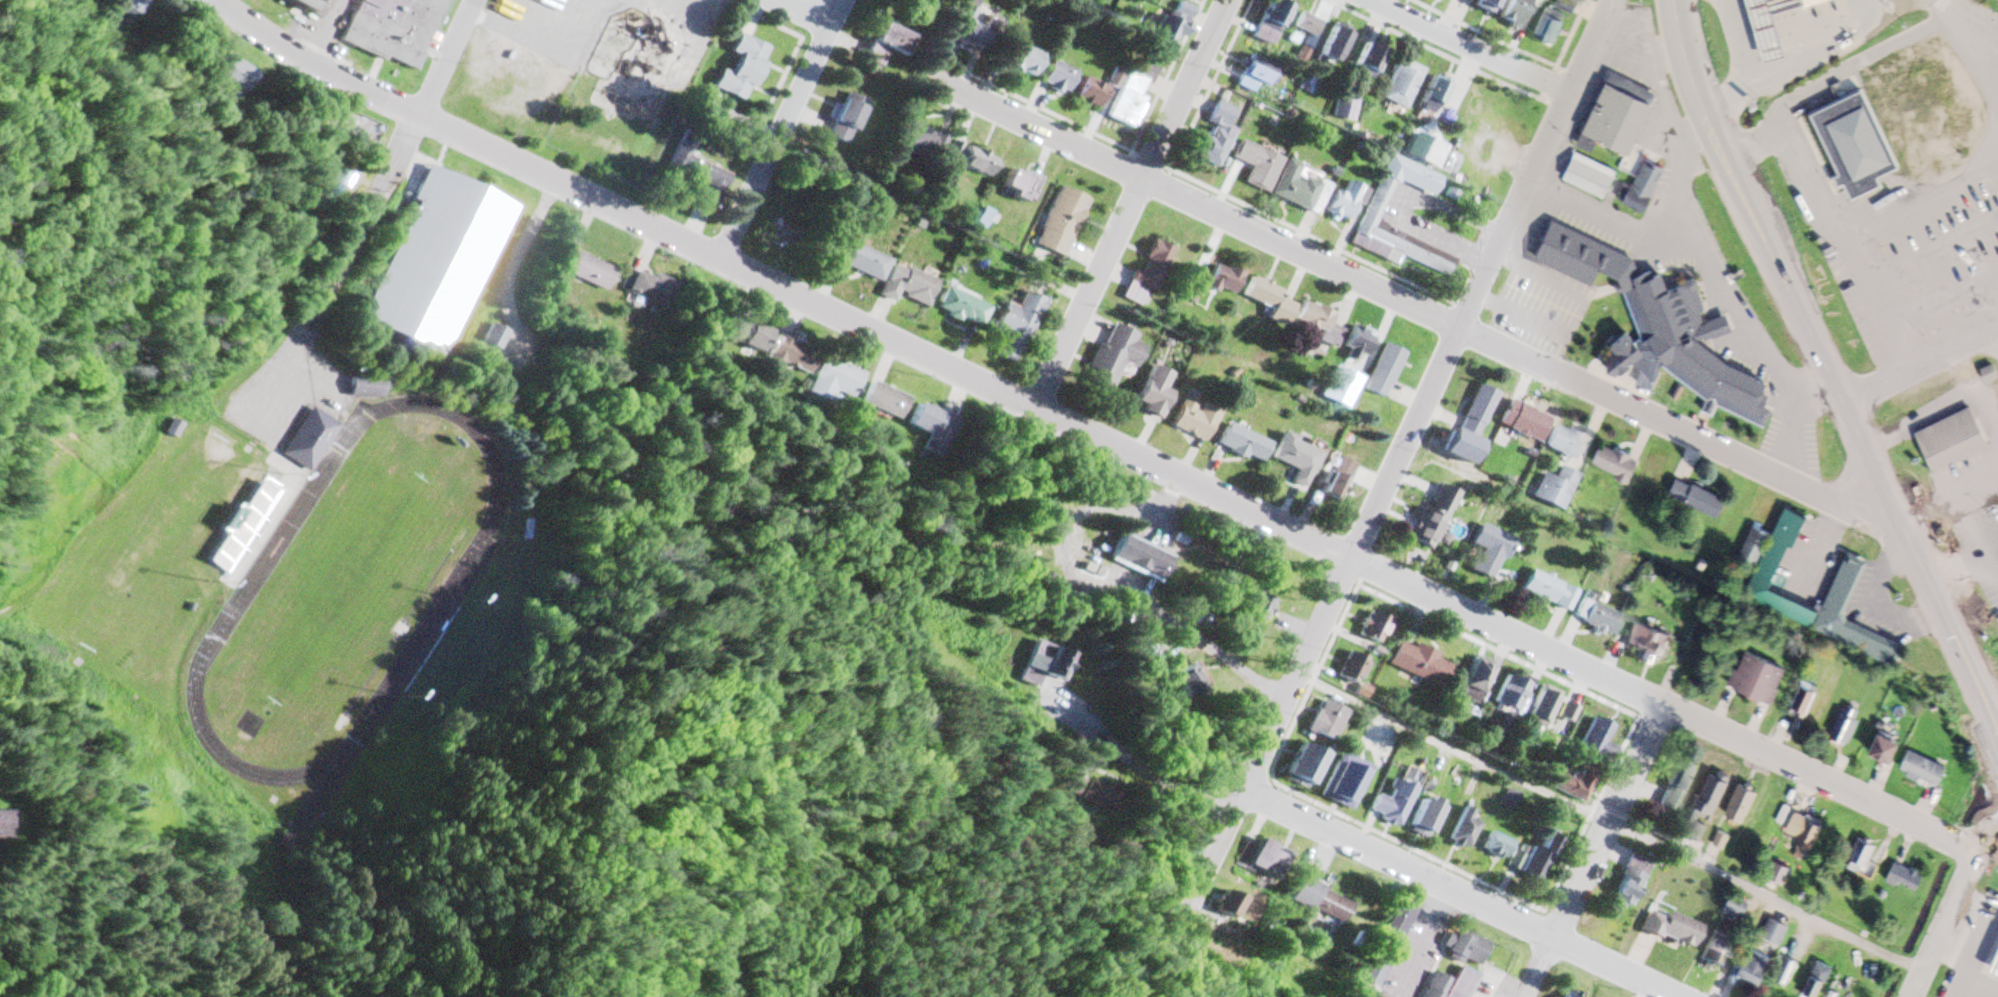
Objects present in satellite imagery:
building: (1542, 0)
building: (1813, 2)
building: (317, 5)
building: (1488, 6)
building: (128, 8)
road: (808, 10)
building: (1516, 12)
building: (1273, 23)
building: (1174, 25)
building: (1308, 25)
building: (1771, 25)
gas station: (1771, 25)
building: (976, 28)
building: (1551, 29)
building: (398, 30)
road: (1484, 34)
building: (894, 40)
building: (1337, 45)
road: (1474, 47)
road: (1564, 49)
road: (1435, 50)
road: (444, 58)
building: (1025, 59)
road: (1870, 59)
building: (1370, 63)
building: (745, 72)
building: (1258, 73)
building: (231, 76)
road: (1168, 76)
building: (1062, 77)
building: (1403, 84)
road: (1211, 85)
building: (1093, 93)
building: (1434, 97)
building: (1129, 98)
building: (1619, 118)
building: (849, 119)
road: (779, 127)
building: (918, 144)
building: (1215, 144)
building: (1859, 144)
building: (1420, 148)
building: (974, 160)
building: (1259, 166)
building: (1590, 178)
building: (706, 182)
building: (1647, 183)
building: (1023, 186)
road: (1206, 186)
building: (1300, 190)
road: (1130, 203)
building: (1346, 203)
road: (1920, 204)
building: (1378, 206)
road: (1746, 207)
building: (1063, 223)
building: (786, 234)
road: (1844, 244)
road: (1931, 256)
building: (439, 260)
building: (864, 261)
road: (337, 268)
building: (589, 271)
building: (1150, 273)
building: (1226, 281)
building: (910, 286)
building: (649, 288)
building: (1272, 302)
road: (1410, 304)
road: (1941, 304)
building: (965, 309)
building: (1320, 325)
building: (1020, 327)
building: (1663, 328)
building: (752, 338)
building: (1359, 344)
building: (796, 356)
building: (1117, 359)
road: (1921, 370)
building: (1385, 371)
building: (839, 381)
building: (365, 388)
building: (1156, 394)
building: (885, 401)
building: (1478, 414)
building: (1195, 421)
building: (1526, 423)
building: (934, 428)
road: (1089, 433)
building: (307, 436)
building: (1954, 438)
building: (1567, 443)
building: (1245, 445)
road: (1402, 448)
building: (1298, 460)
building: (1617, 466)
building: (1337, 479)
building: (1557, 489)
building: (1698, 501)
building: (1435, 518)
building: (257, 521)
building: (1492, 552)
building: (1753, 552)
building: (1779, 553)
building: (1141, 558)
road: (1919, 568)
track: (456, 584)
park: (342, 589)
building: (1550, 593)
building: (1260, 604)
building: (1598, 619)
building: (1379, 627)
building: (1643, 644)
building: (1043, 662)
building: (1422, 664)
building: (1354, 667)
building: (1479, 677)
building: (1195, 681)
building: (1759, 681)
building: (1513, 692)
building: (1803, 702)
building: (1543, 708)
building: (1570, 713)
building: (1329, 720)
building: (1846, 731)
building: (1597, 736)
building: (1886, 751)
road: (1138, 756)
building: (1308, 764)
building: (1923, 771)
building: (1683, 777)
building: (1346, 784)
building: (1577, 785)
building: (1714, 794)
building: (1101, 797)
building: (1395, 804)
building: (1743, 805)
building: (1428, 818)
road: (1610, 821)
building: (4, 825)
building: (1467, 828)
building: (1697, 832)
building: (1805, 838)
building: (1722, 841)
building: (287, 843)
building: (1498, 846)
road: (1586, 851)
building: (1861, 857)
building: (1537, 860)
building: (1264, 861)
building: (1779, 875)
building: (1907, 878)
building: (1632, 881)
road: (1463, 891)
building: (1322, 902)
building: (1232, 904)
building: (1738, 906)
road: (1949, 911)
building: (1396, 928)
building: (1674, 929)
building: (1777, 934)
building: (1717, 949)
building: (1470, 950)
building: (1758, 967)
building: (1997, 967)
building: (1818, 981)
building: (1463, 983)
building: (1438, 986)
building: (1569, 995)

